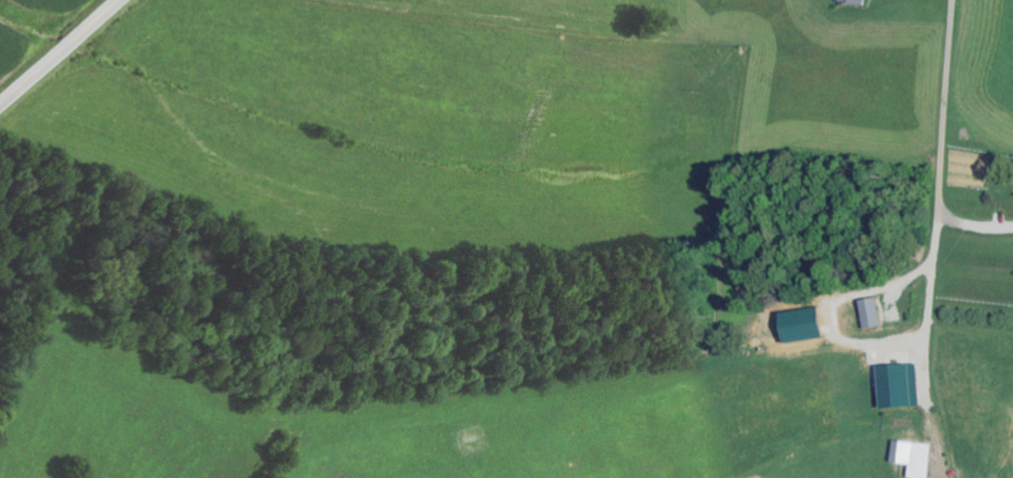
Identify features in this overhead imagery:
building: (856, 2)
road: (60, 52)
building: (873, 314)
building: (901, 387)
building: (916, 458)

